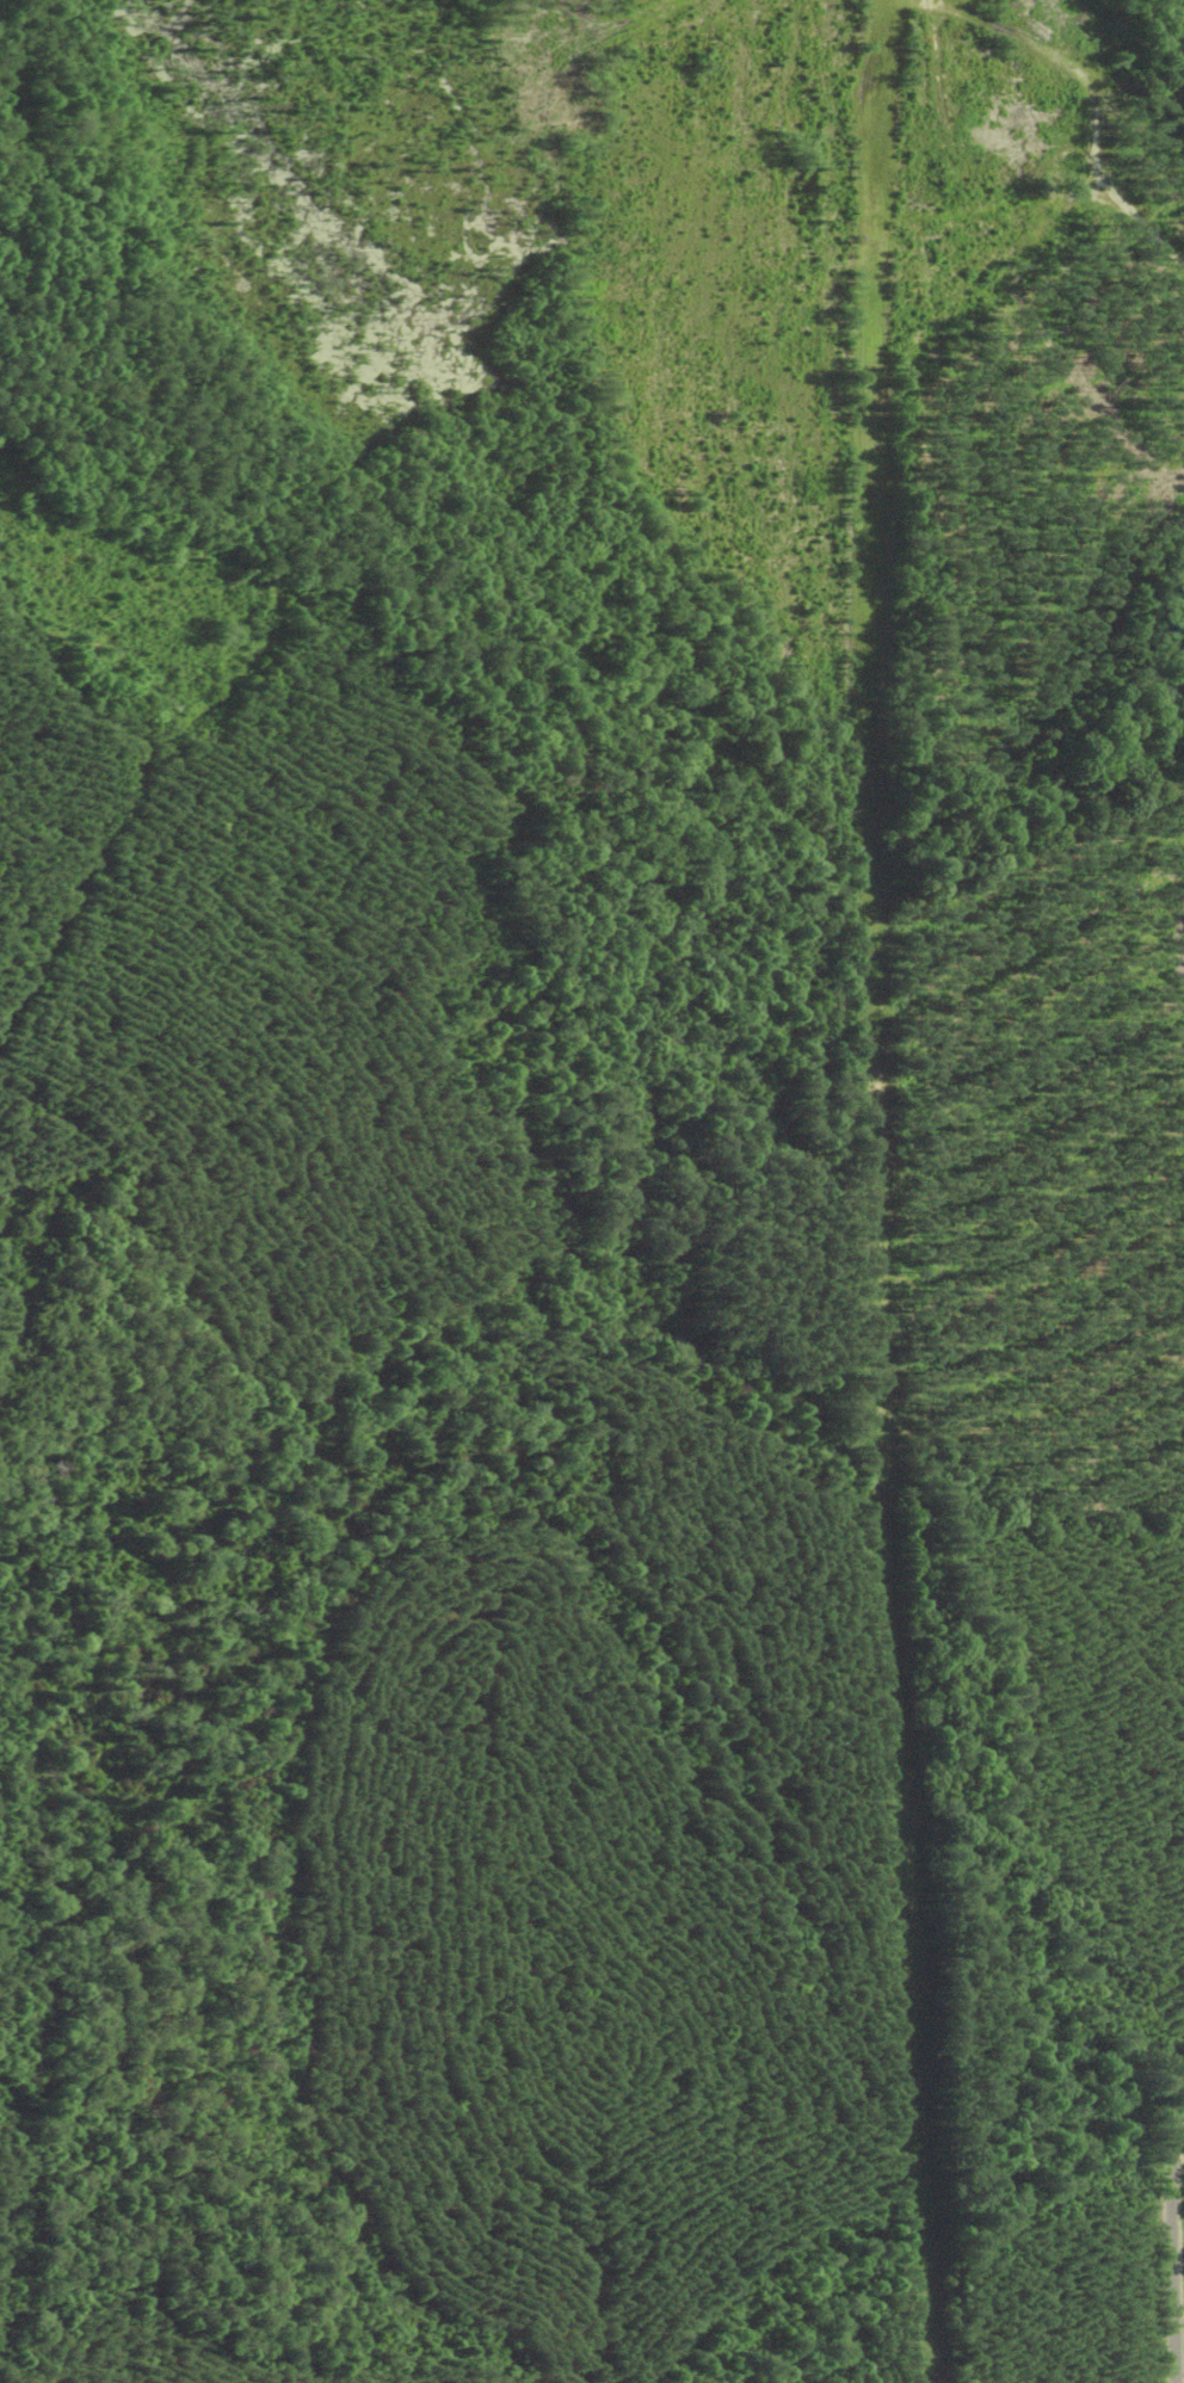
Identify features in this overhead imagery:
road: (1170, 2239)

